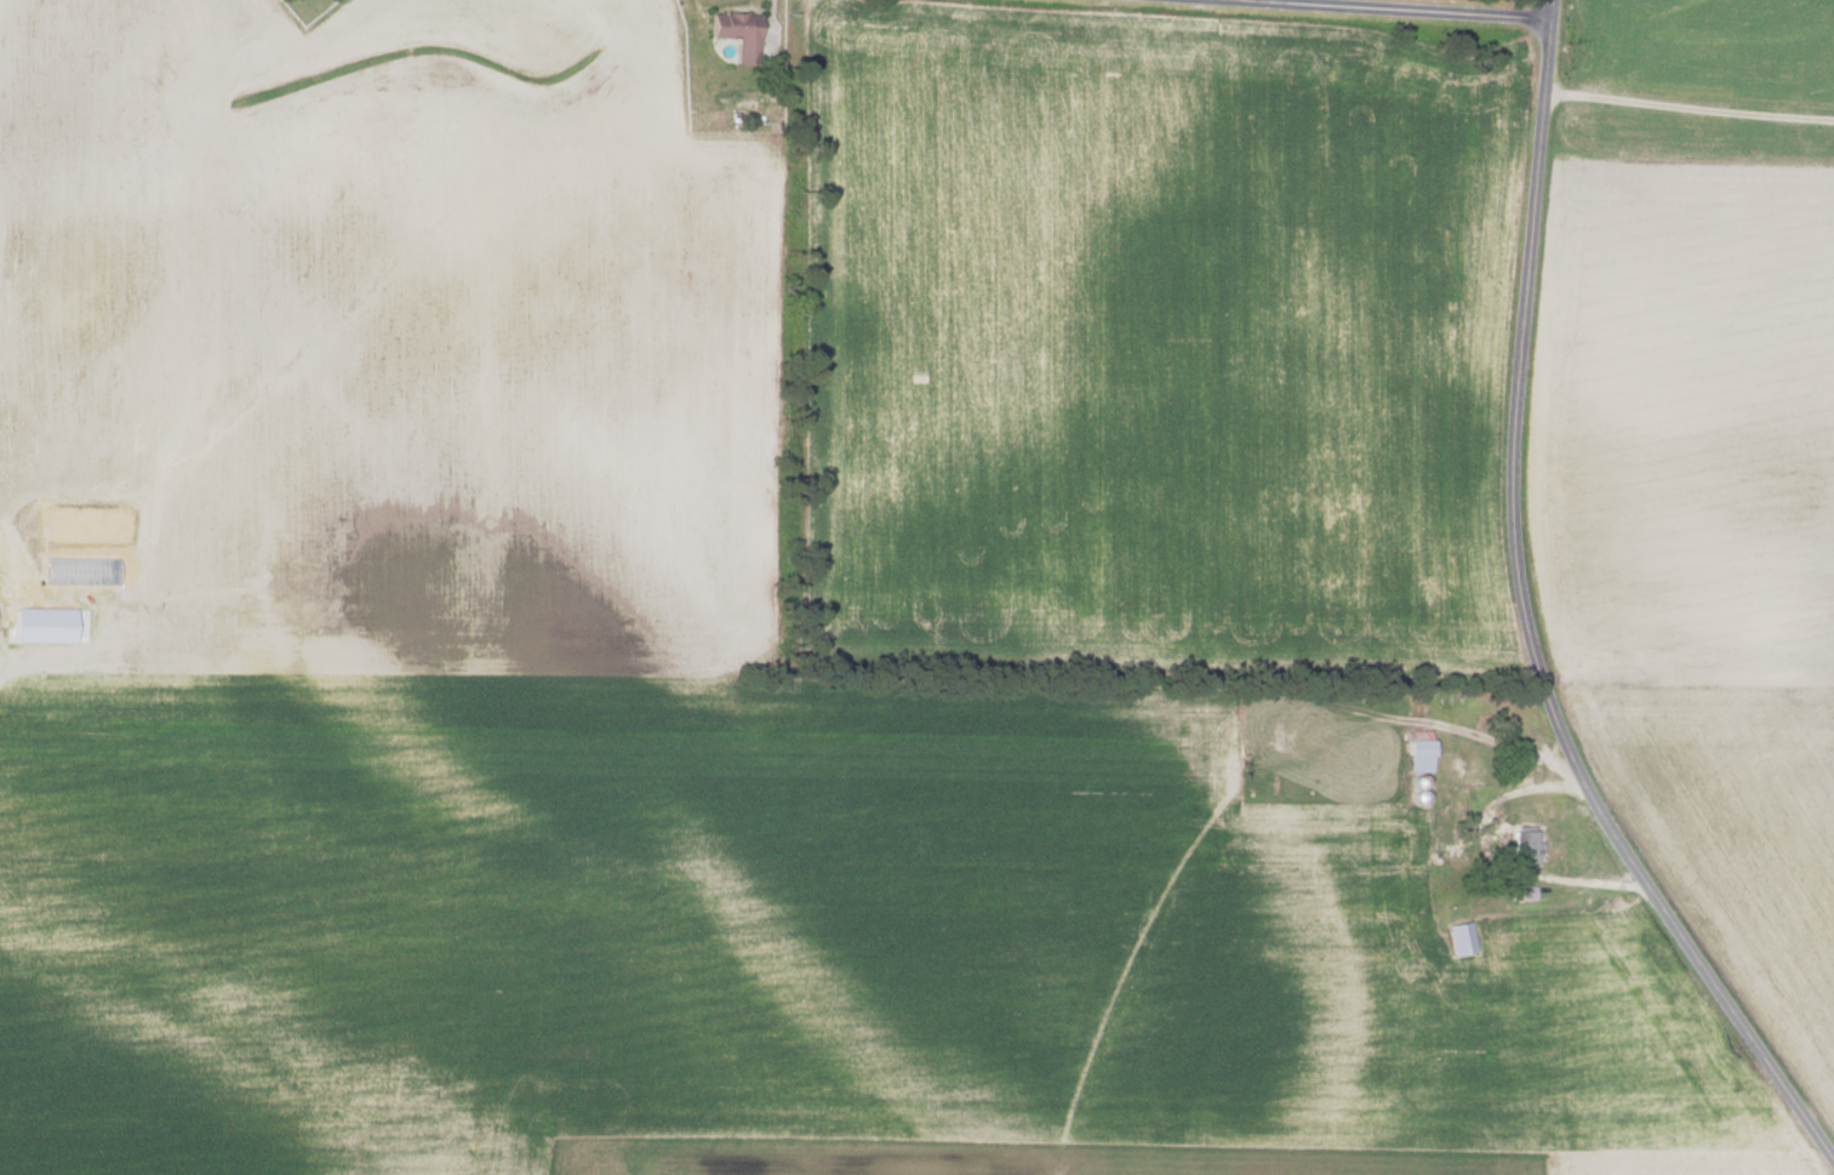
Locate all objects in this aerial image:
road: (1360, 7)
road: (1550, 7)
building: (736, 32)
road: (1530, 628)
building: (1417, 749)
building: (1524, 848)
building: (1527, 892)
building: (1459, 937)

